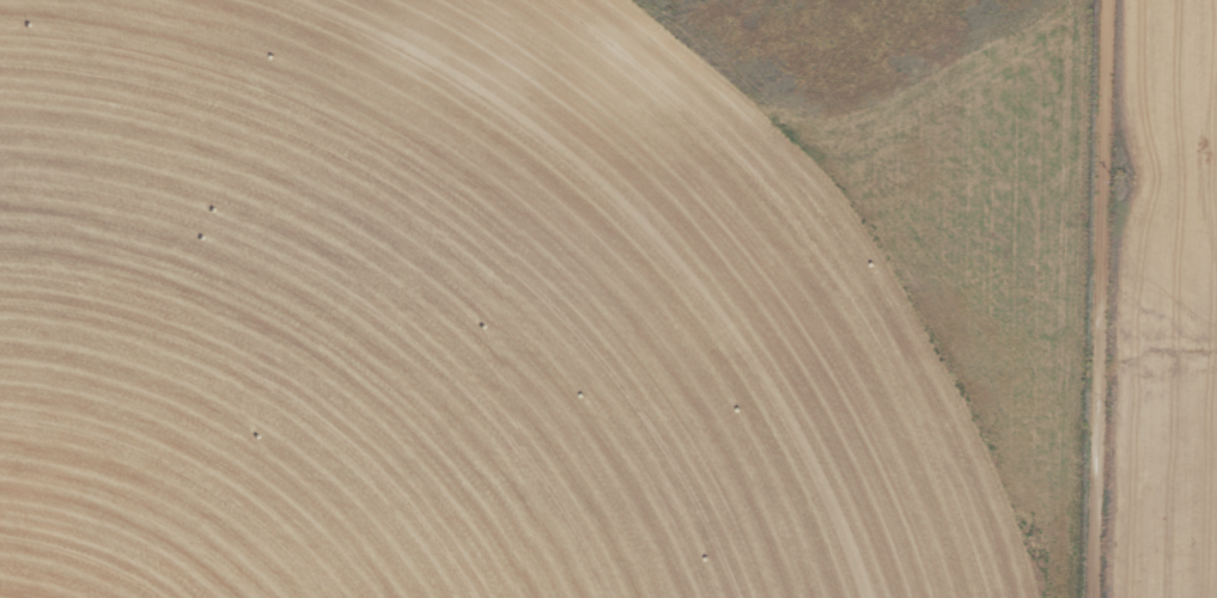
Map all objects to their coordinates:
road: (1102, 299)

